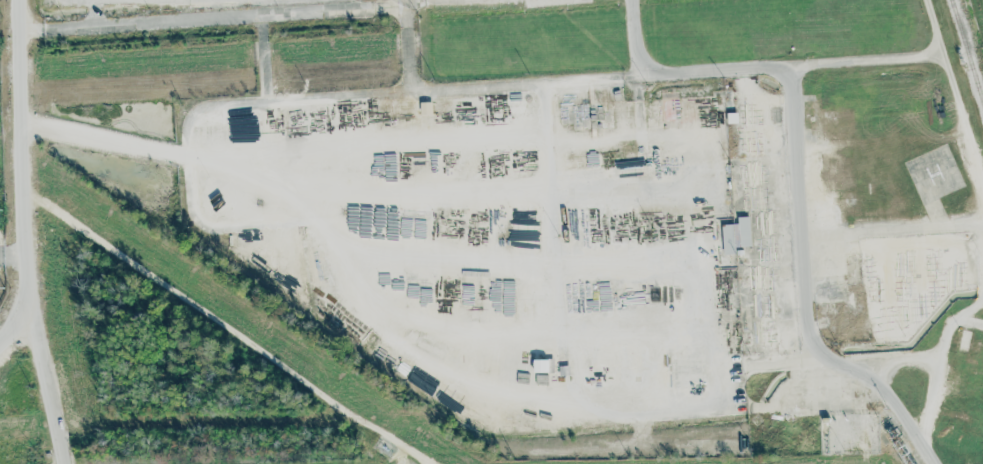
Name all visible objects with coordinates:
road: (93, 13)
road: (265, 18)
railway: (966, 51)
road: (953, 91)
road: (333, 97)
road: (415, 102)
road: (646, 102)
road: (107, 139)
road: (272, 167)
building: (191, 197)
road: (800, 215)
road: (892, 230)
road: (23, 234)
building: (736, 235)
road: (12, 256)
road: (18, 322)
road: (412, 341)
road: (565, 347)
road: (863, 360)
road: (941, 401)
road: (895, 410)

